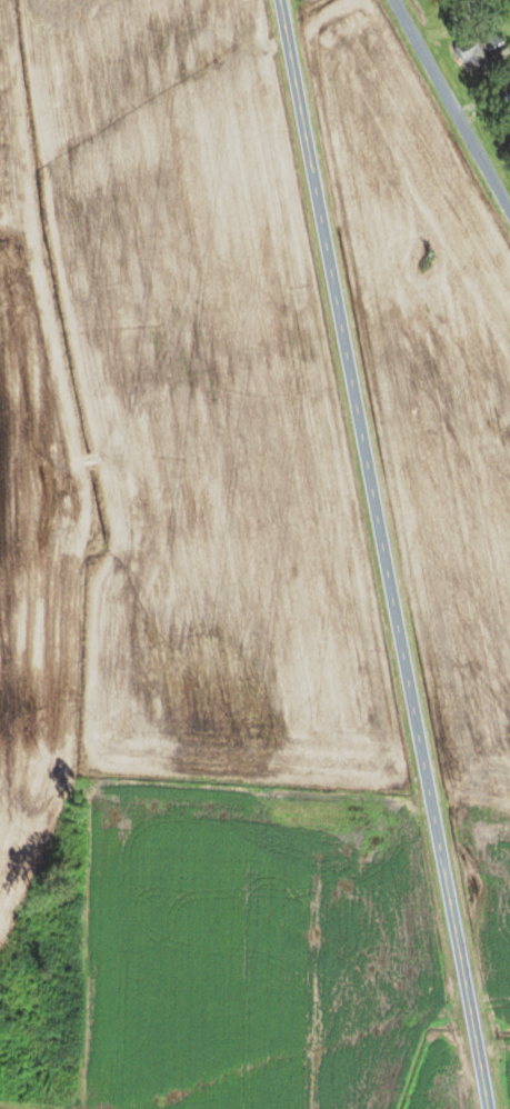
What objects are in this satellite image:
building: (480, 51)
road: (450, 108)
building: (507, 122)
road: (383, 553)

